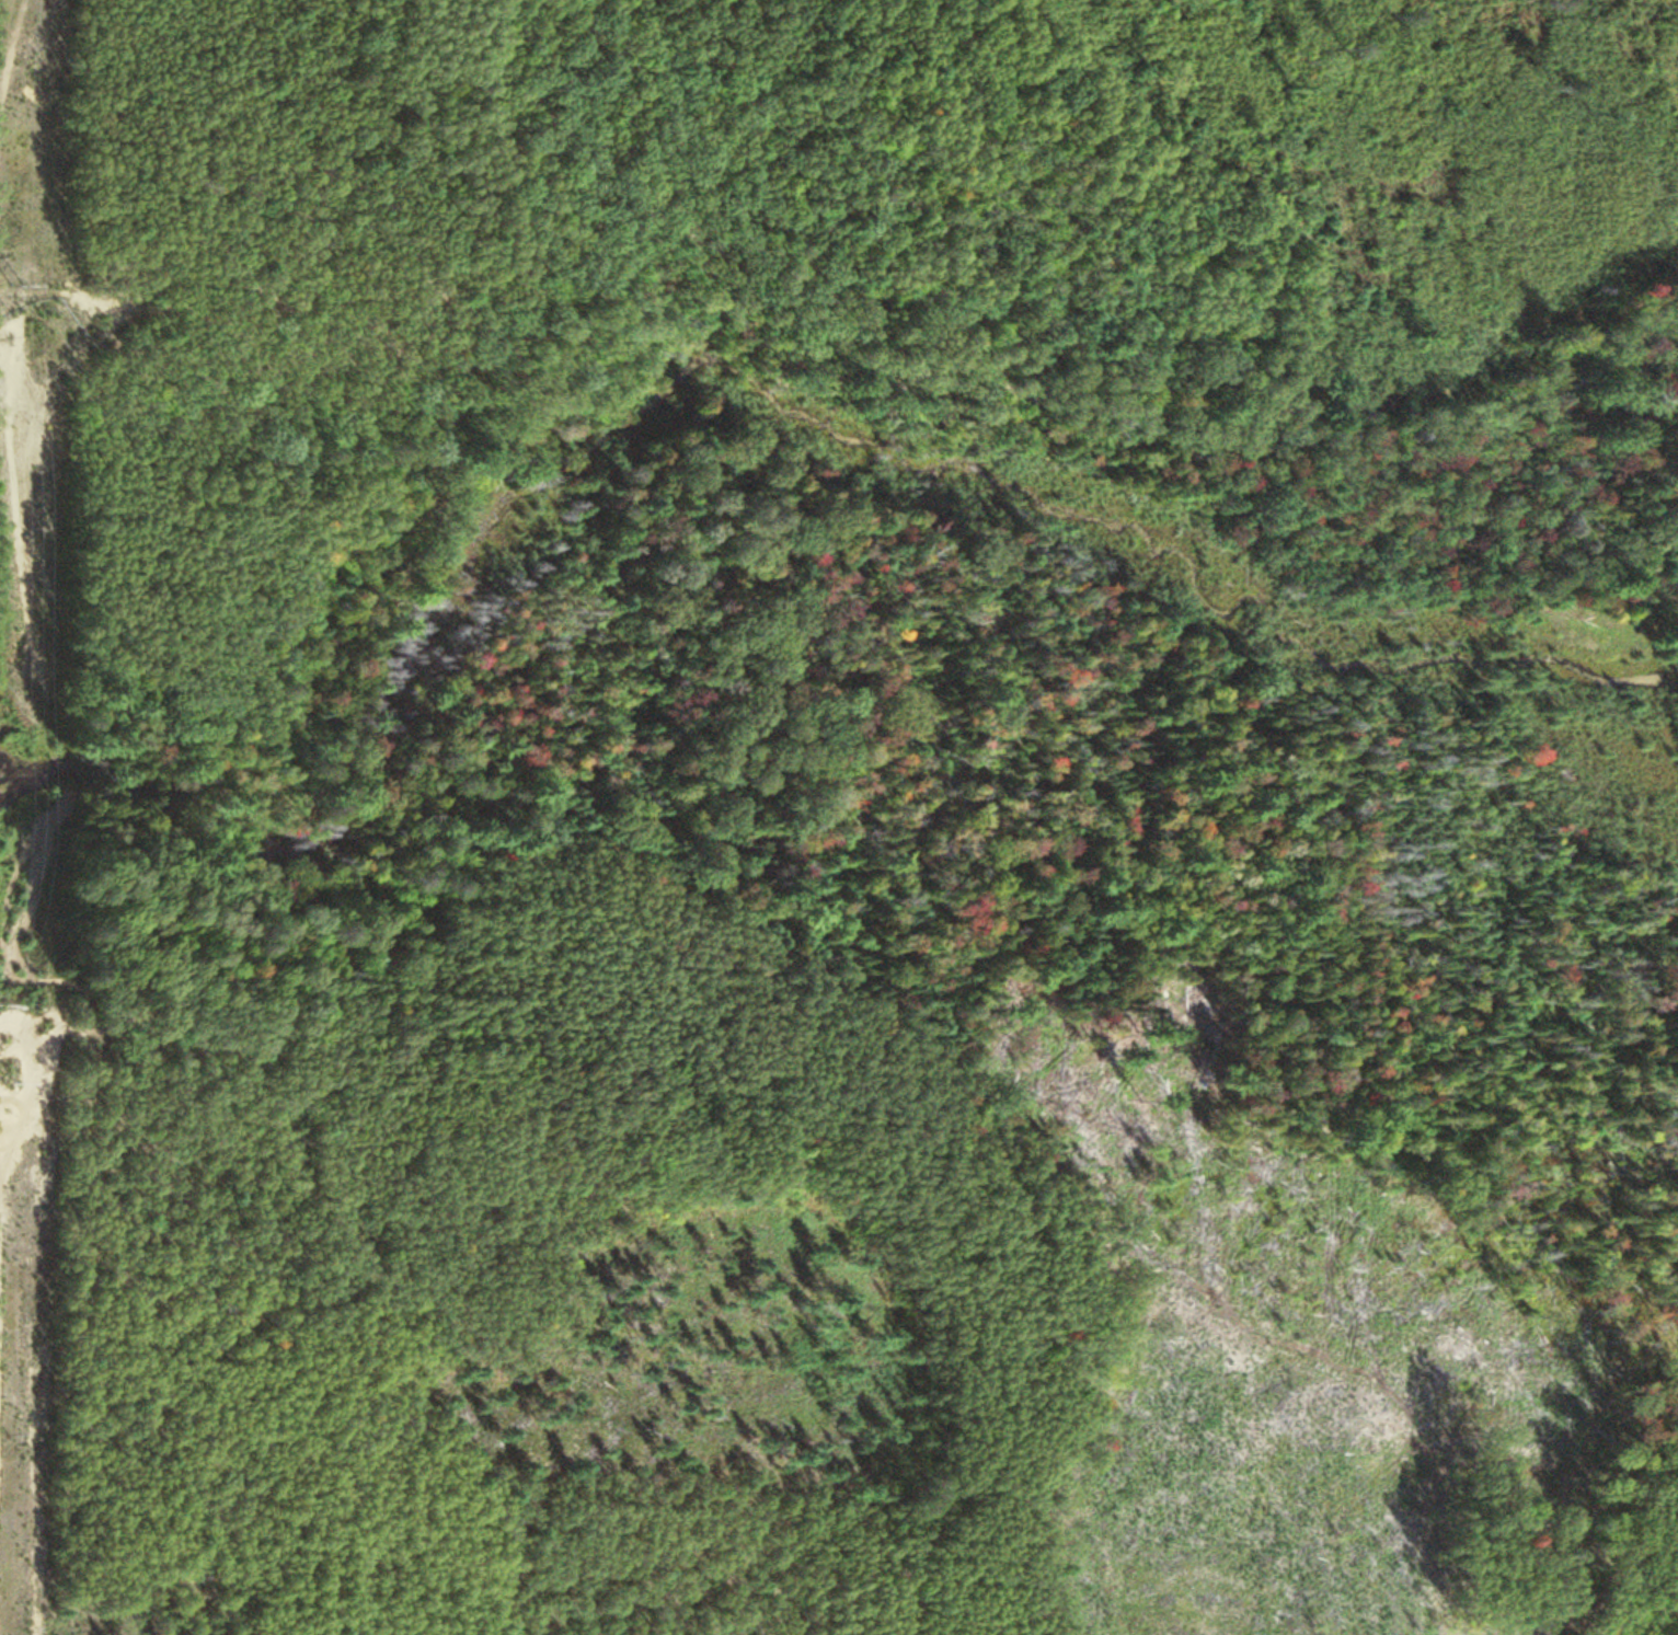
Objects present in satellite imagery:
road: (32, 1350)

